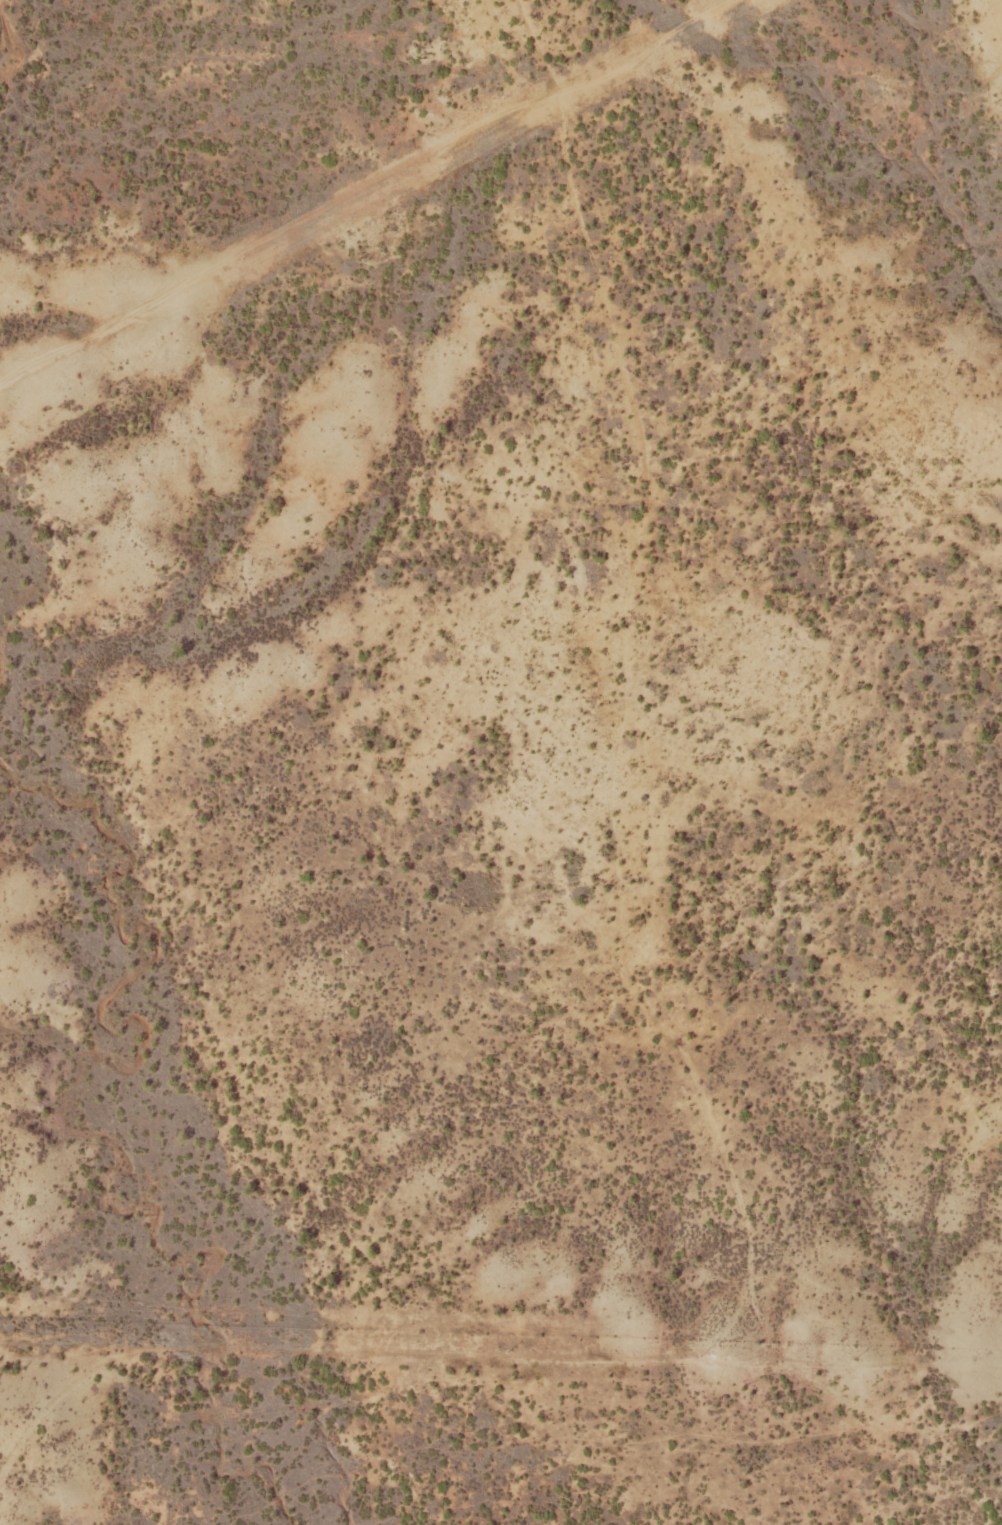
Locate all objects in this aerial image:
road: (635, 1035)

